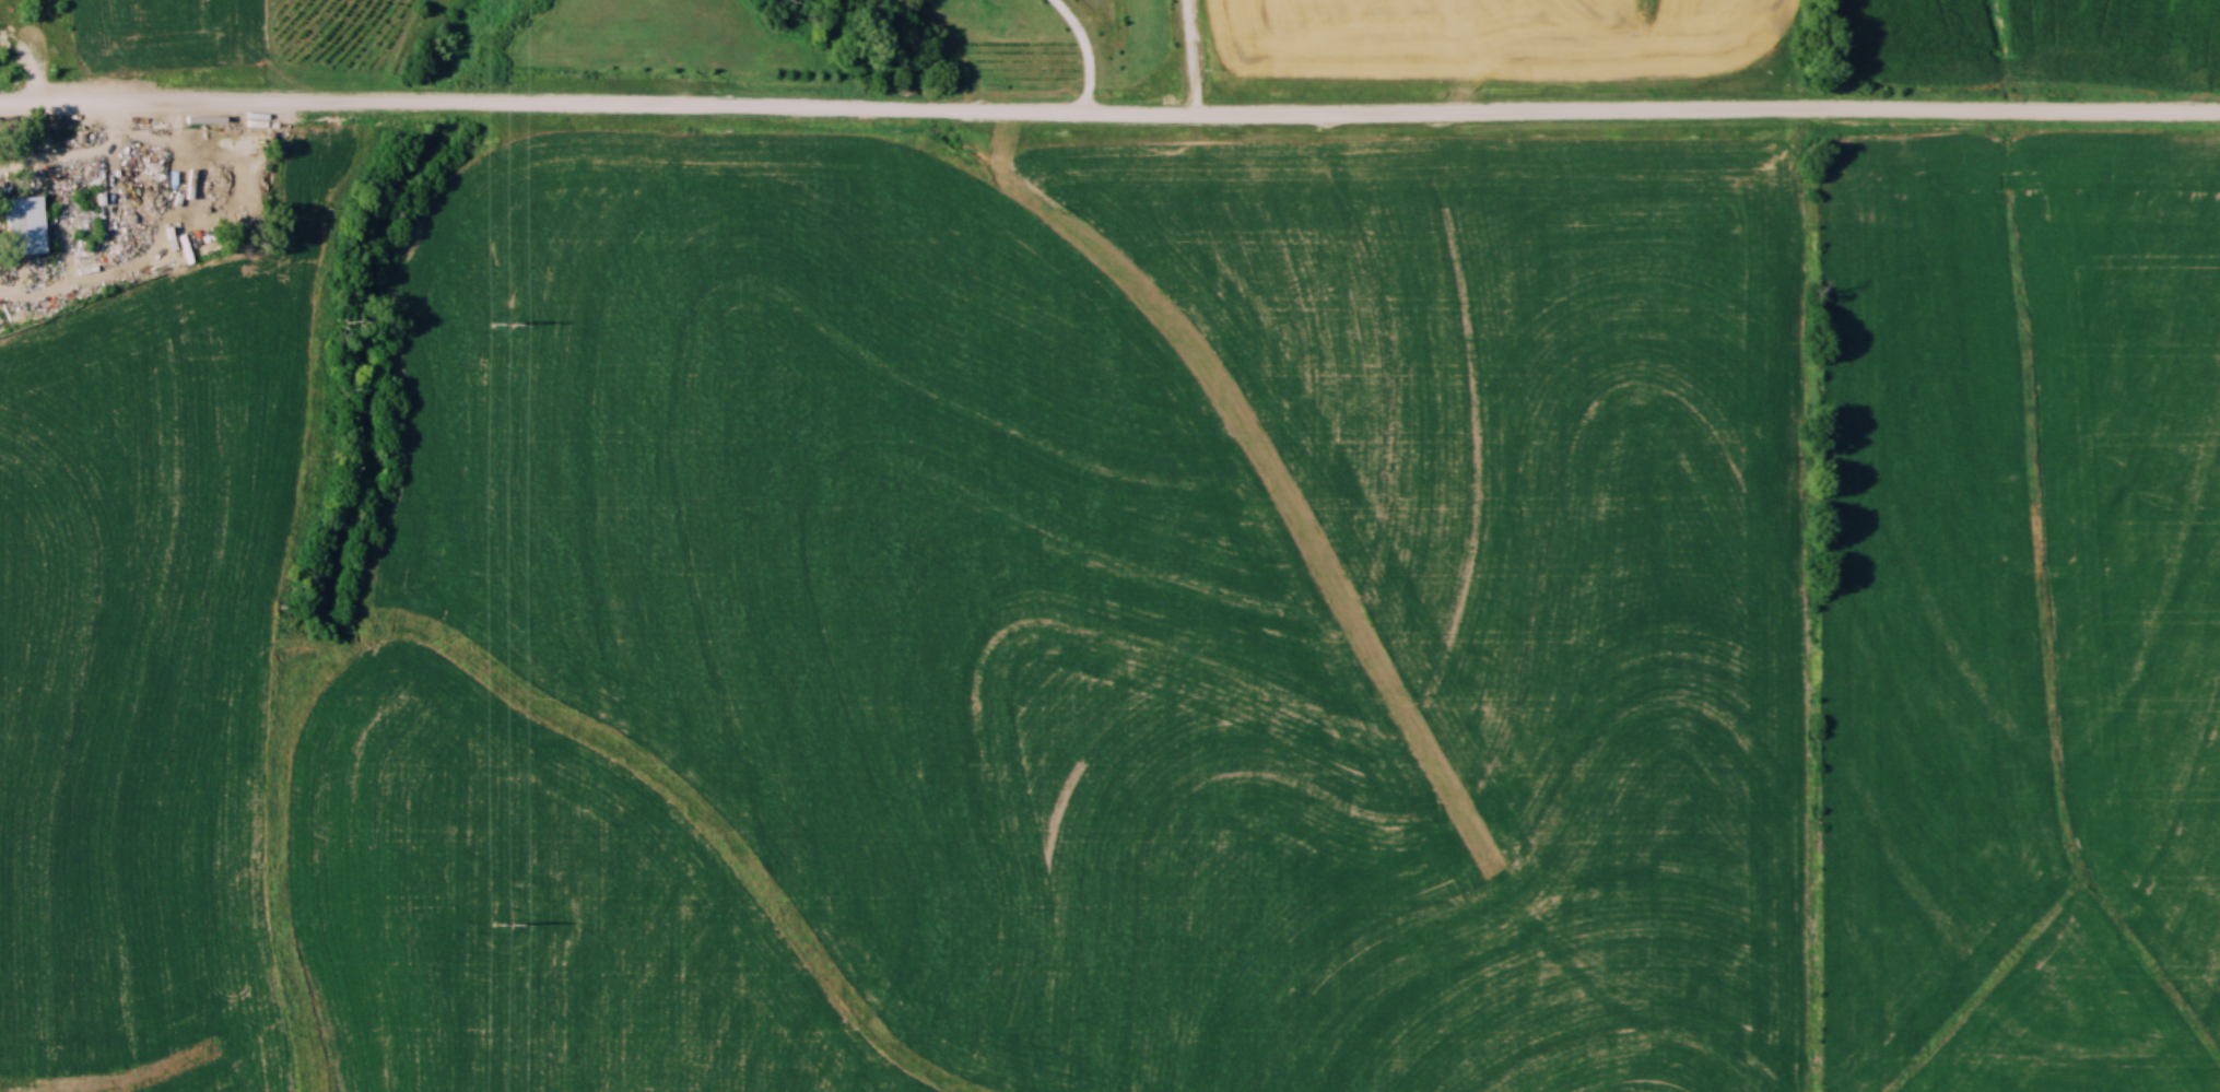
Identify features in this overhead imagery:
road: (1084, 55)
road: (1191, 58)
road: (30, 68)
road: (1109, 118)
road: (75, 160)
building: (25, 227)
power tower: (501, 322)
power tower: (506, 924)

